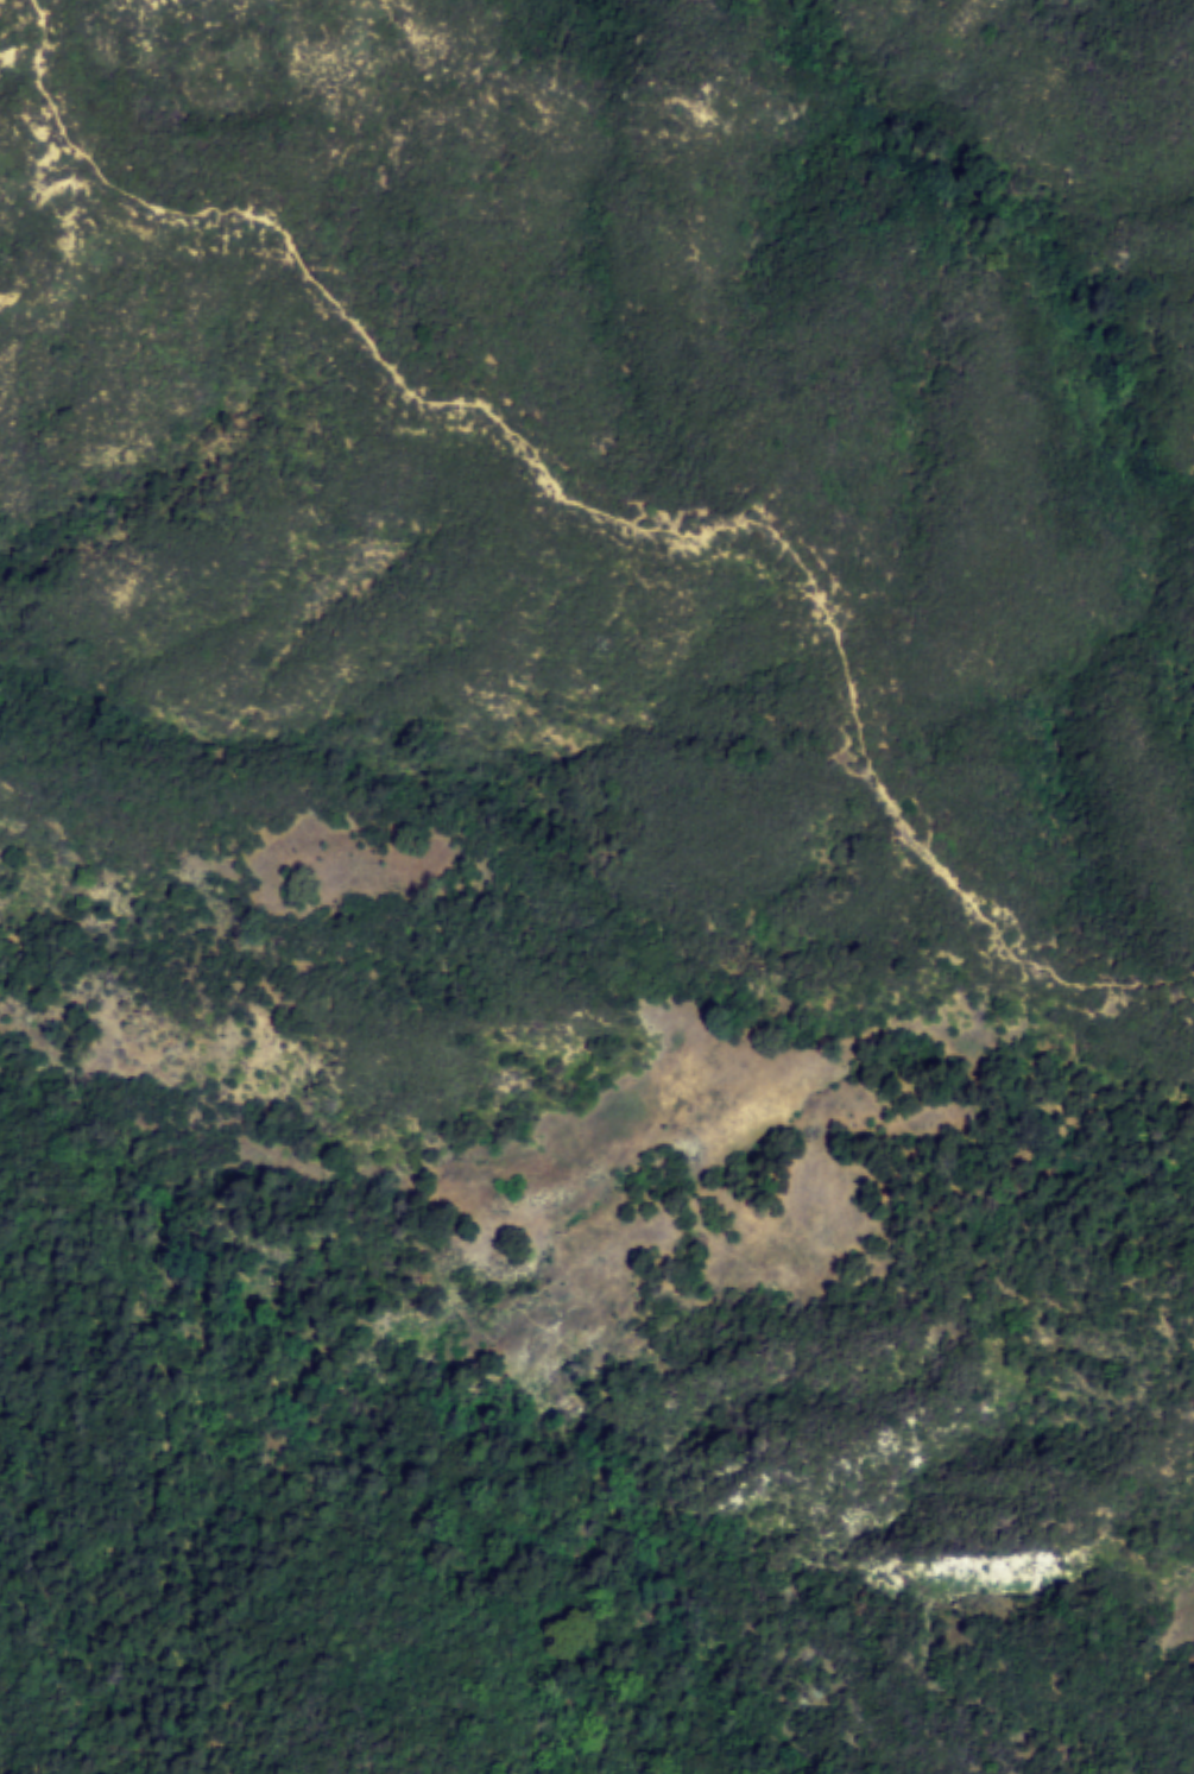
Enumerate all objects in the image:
road: (609, 518)

